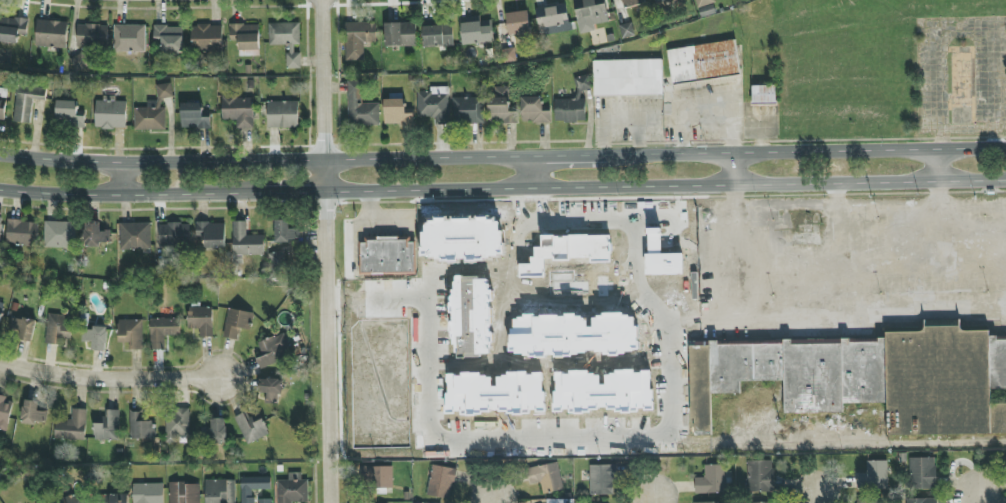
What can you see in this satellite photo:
building: (660, 1)
building: (633, 3)
building: (704, 3)
building: (590, 14)
building: (551, 17)
building: (518, 23)
building: (12, 29)
building: (476, 31)
building: (627, 31)
building: (52, 33)
building: (401, 35)
building: (93, 36)
building: (246, 36)
building: (438, 36)
building: (129, 38)
building: (207, 38)
building: (170, 39)
building: (359, 39)
building: (287, 41)
building: (509, 55)
building: (703, 62)
building: (628, 78)
building: (583, 85)
building: (3, 93)
road: (325, 95)
building: (764, 95)
building: (27, 102)
building: (361, 107)
building: (501, 108)
building: (2, 110)
building: (469, 110)
building: (154, 111)
building: (238, 111)
building: (534, 111)
building: (570, 111)
building: (397, 113)
building: (110, 114)
building: (69, 115)
building: (283, 115)
building: (194, 117)
road: (707, 119)
road: (620, 121)
road: (800, 152)
road: (561, 156)
road: (263, 160)
road: (935, 165)
road: (730, 169)
road: (529, 172)
road: (118, 179)
road: (665, 185)
road: (281, 192)
road: (118, 194)
road: (935, 196)
road: (837, 198)
road: (731, 200)
road: (530, 207)
road: (868, 212)
road: (371, 219)
road: (601, 226)
building: (0, 227)
building: (286, 232)
building: (22, 233)
building: (174, 234)
building: (60, 235)
building: (96, 235)
building: (212, 235)
building: (135, 236)
building: (389, 257)
building: (277, 261)
road: (864, 308)
building: (2, 311)
building: (201, 321)
building: (237, 323)
building: (24, 328)
building: (58, 328)
building: (163, 331)
building: (131, 333)
building: (96, 337)
road: (328, 347)
building: (273, 351)
building: (868, 378)
road: (108, 379)
building: (271, 389)
building: (5, 412)
building: (33, 413)
building: (177, 424)
building: (141, 426)
building: (72, 427)
building: (107, 427)
building: (251, 428)
building: (217, 432)
road: (541, 445)
building: (922, 474)
building: (760, 476)
building: (874, 476)
building: (377, 477)
building: (546, 477)
building: (602, 480)
building: (712, 480)
building: (441, 482)
building: (253, 487)
building: (293, 489)
building: (220, 491)
building: (177, 492)
building: (148, 493)
building: (193, 493)
road: (976, 495)
road: (814, 496)
building: (75, 499)
building: (114, 499)
road: (652, 499)
road: (491, 500)
building: (869, 500)
building: (922, 500)
building: (265, 501)
building: (706, 502)
building: (766, 502)

